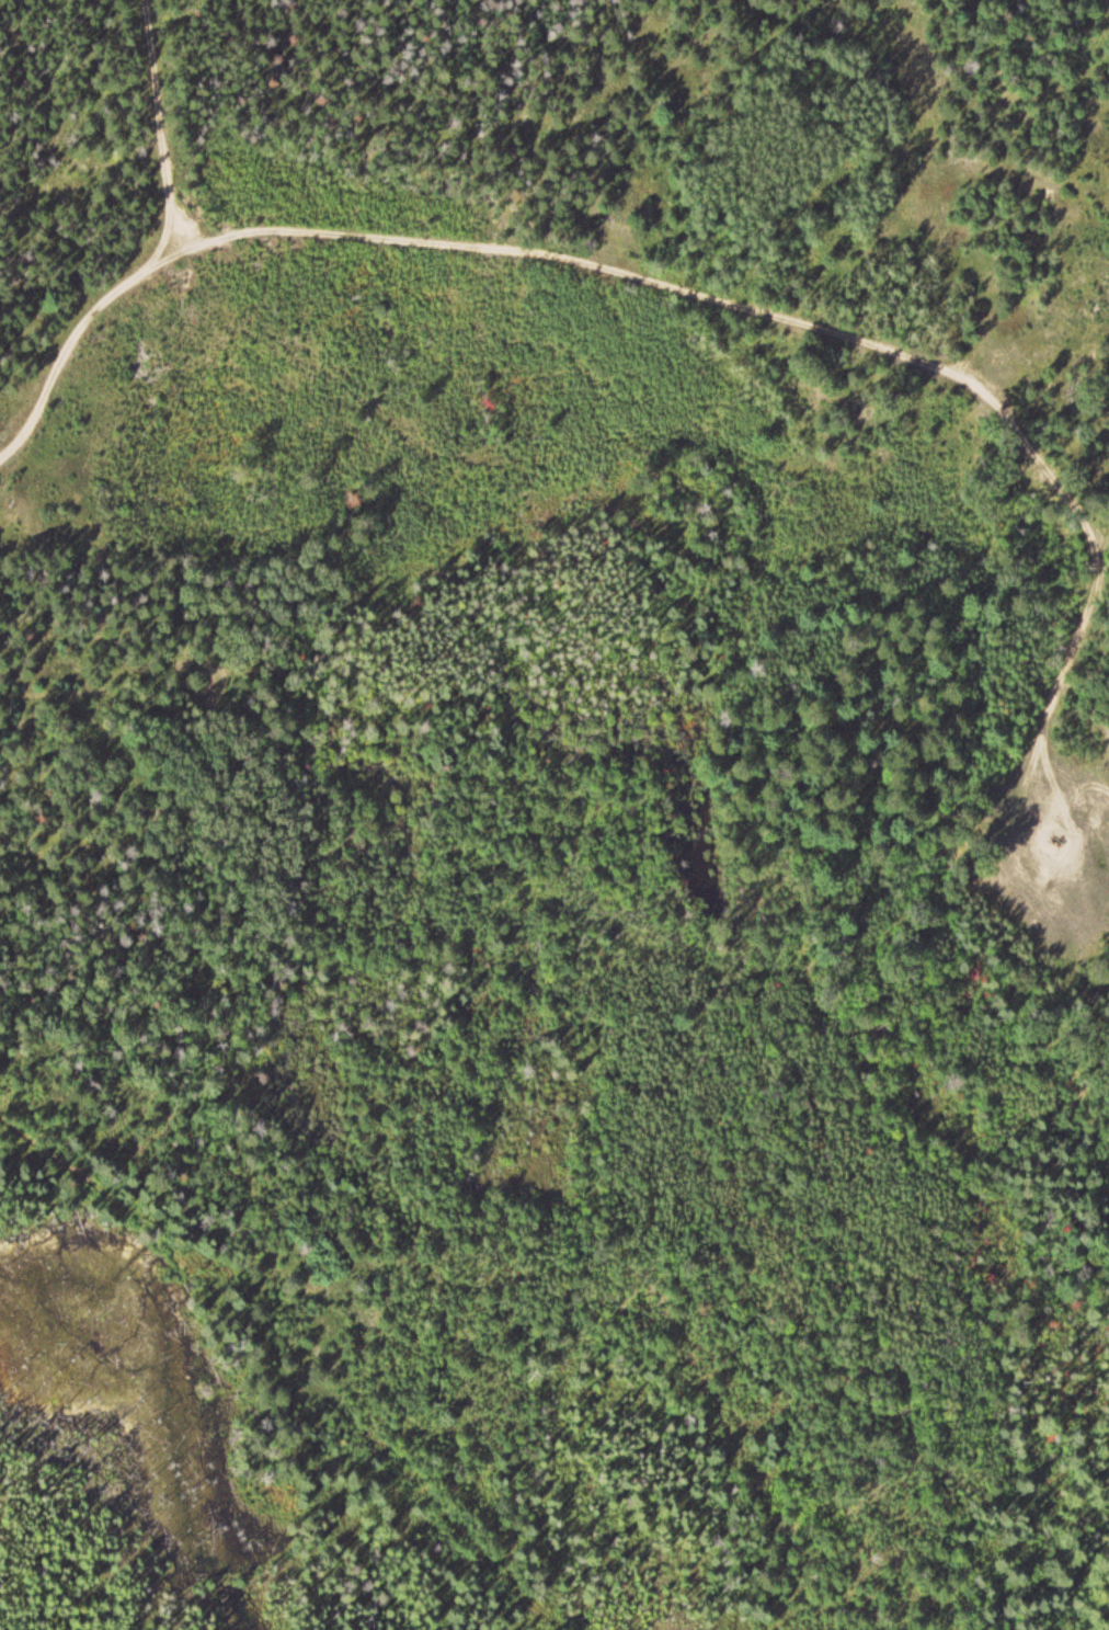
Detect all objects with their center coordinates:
road: (152, 125)
road: (807, 326)
road: (71, 337)
petroleum well: (1052, 841)

